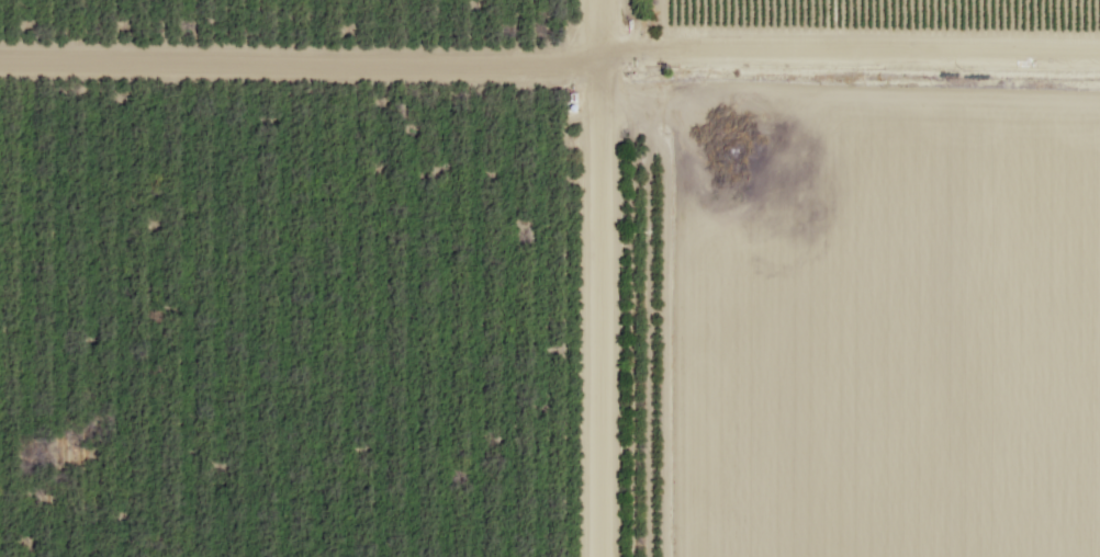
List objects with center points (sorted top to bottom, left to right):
crop: (869, 300)

